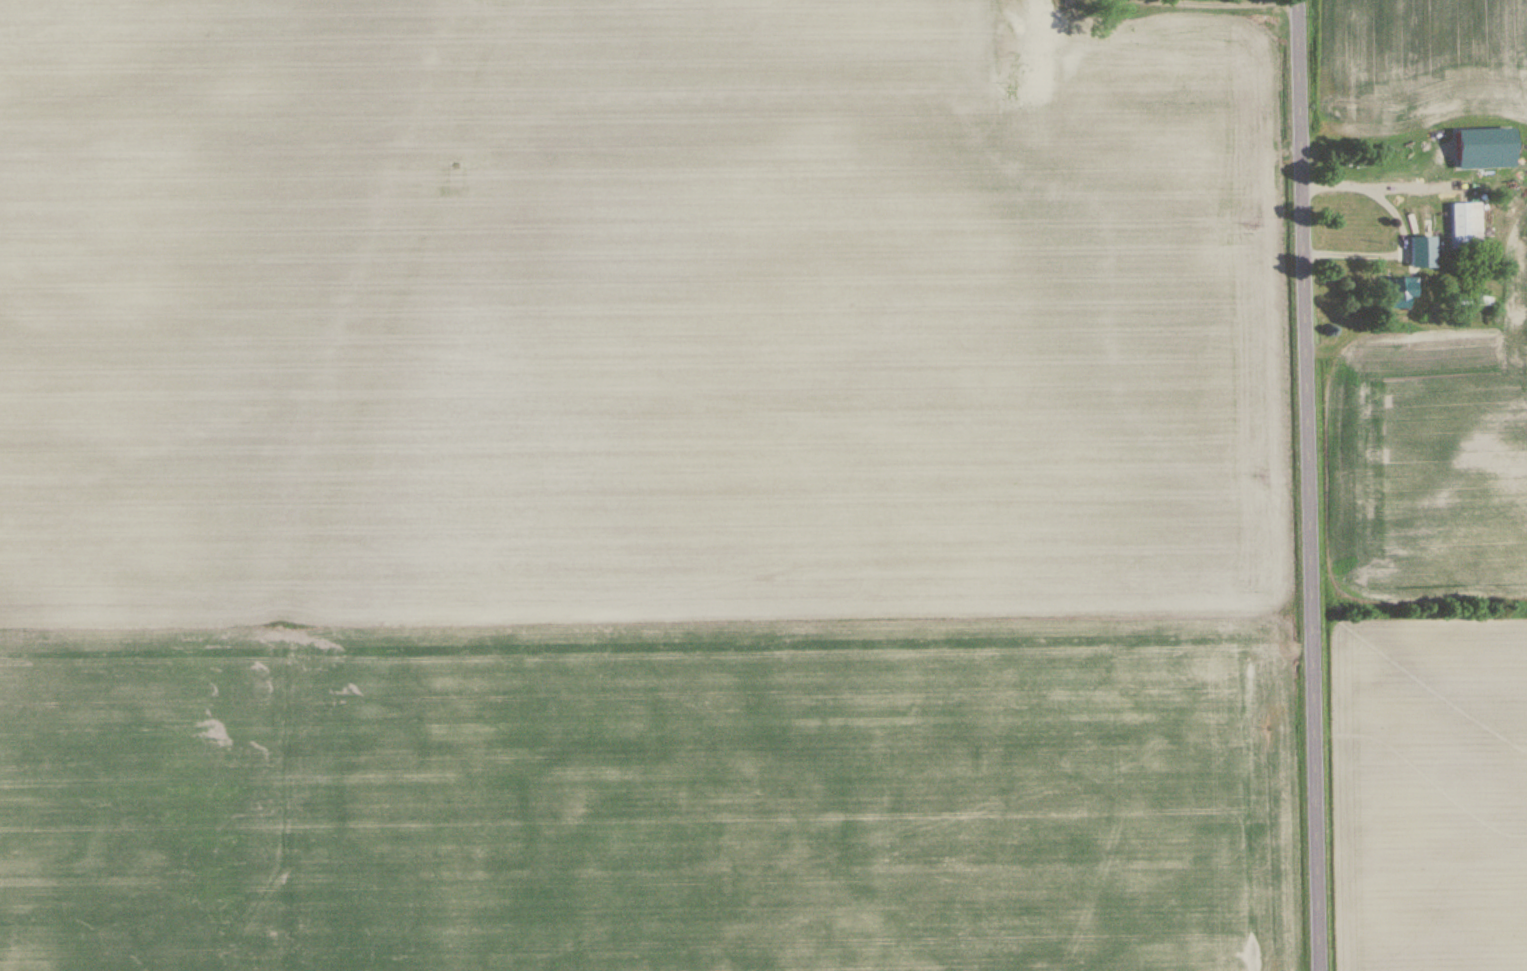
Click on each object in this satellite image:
building: (1023, 28)
building: (1407, 173)
building: (1467, 225)
road: (1402, 230)
building: (1424, 252)
building: (1403, 291)
road: (1302, 485)

